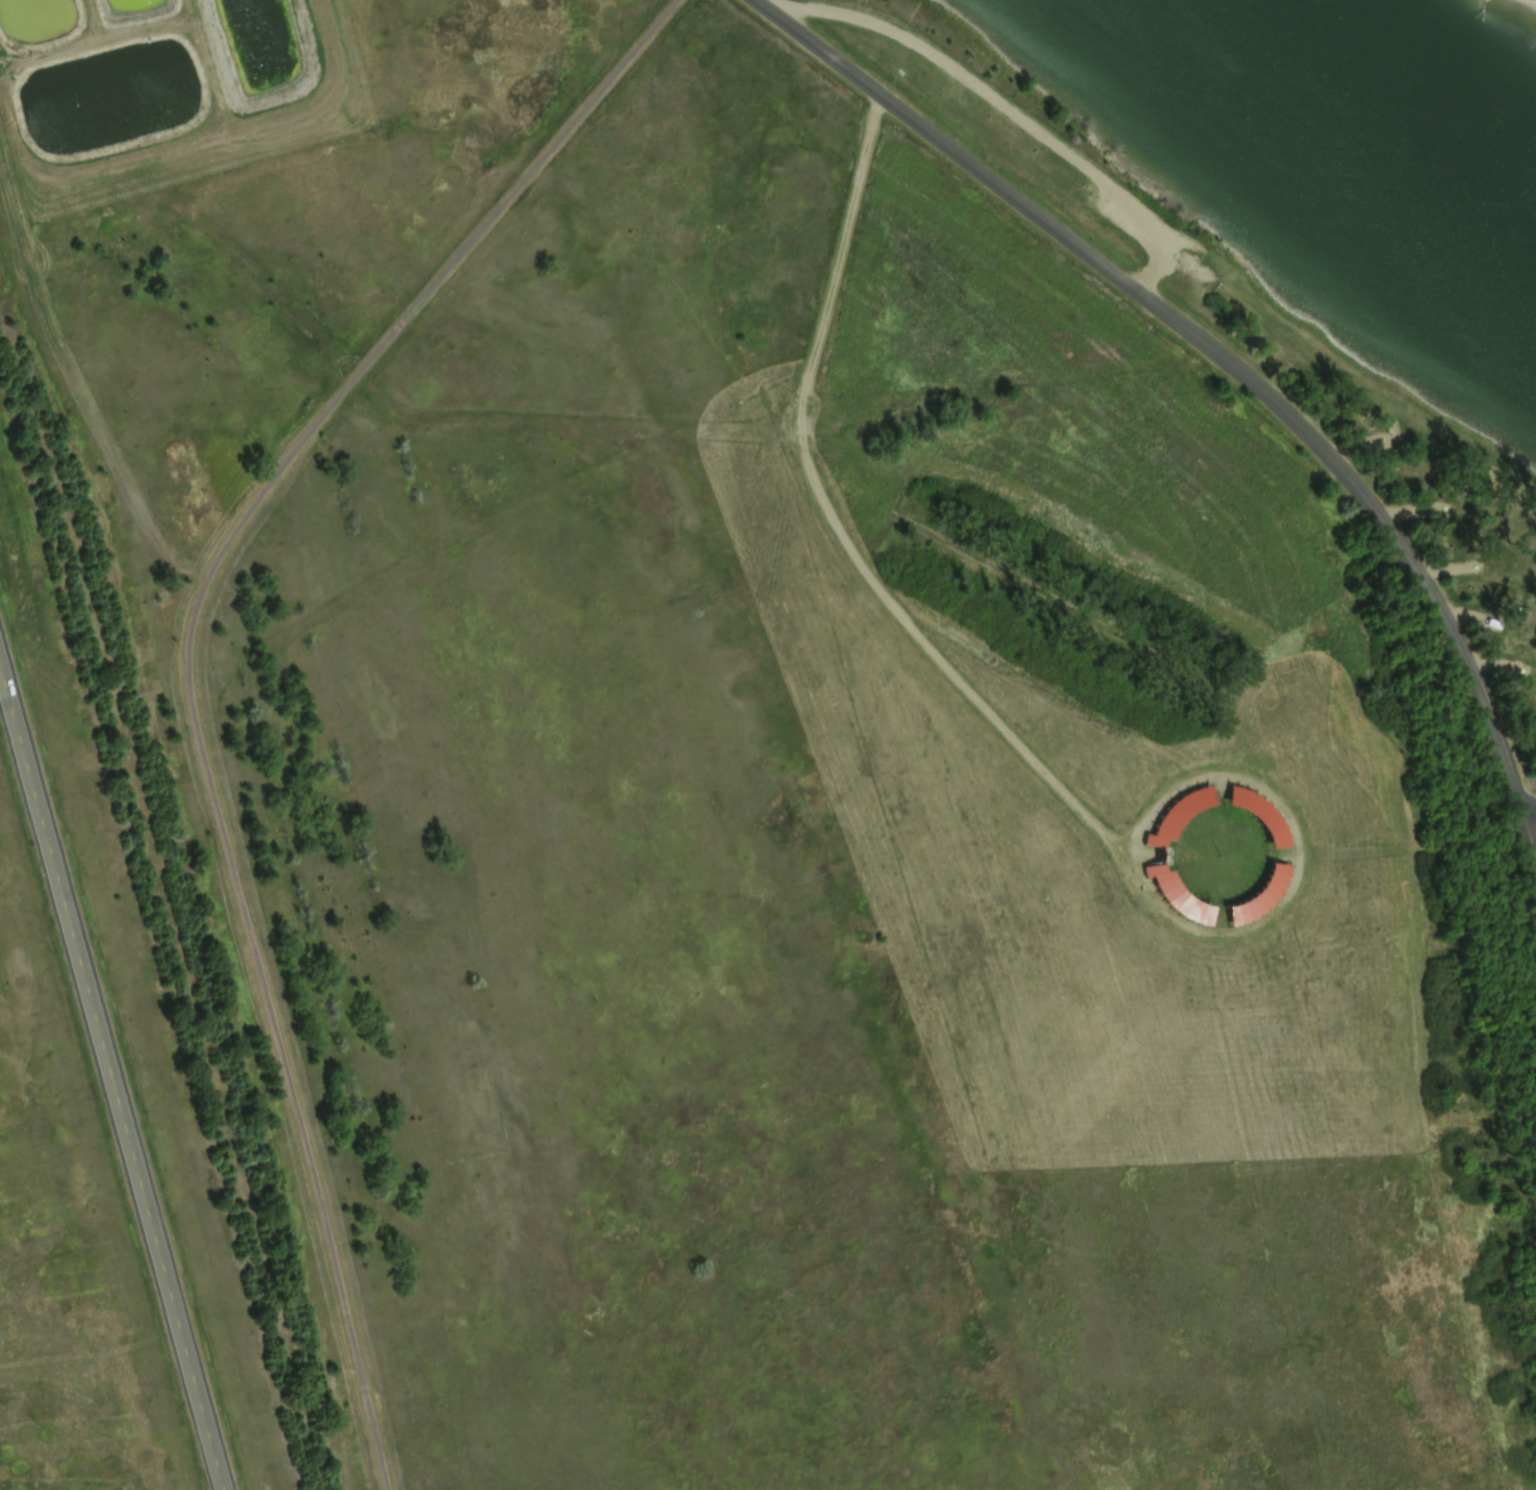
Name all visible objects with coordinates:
road: (988, 96)
road: (1160, 268)
road: (1205, 346)
road: (834, 525)
road: (185, 669)
road: (1530, 805)
road: (1529, 825)
road: (1415, 851)
building: (1156, 853)
road: (1297, 857)
road: (110, 1080)

